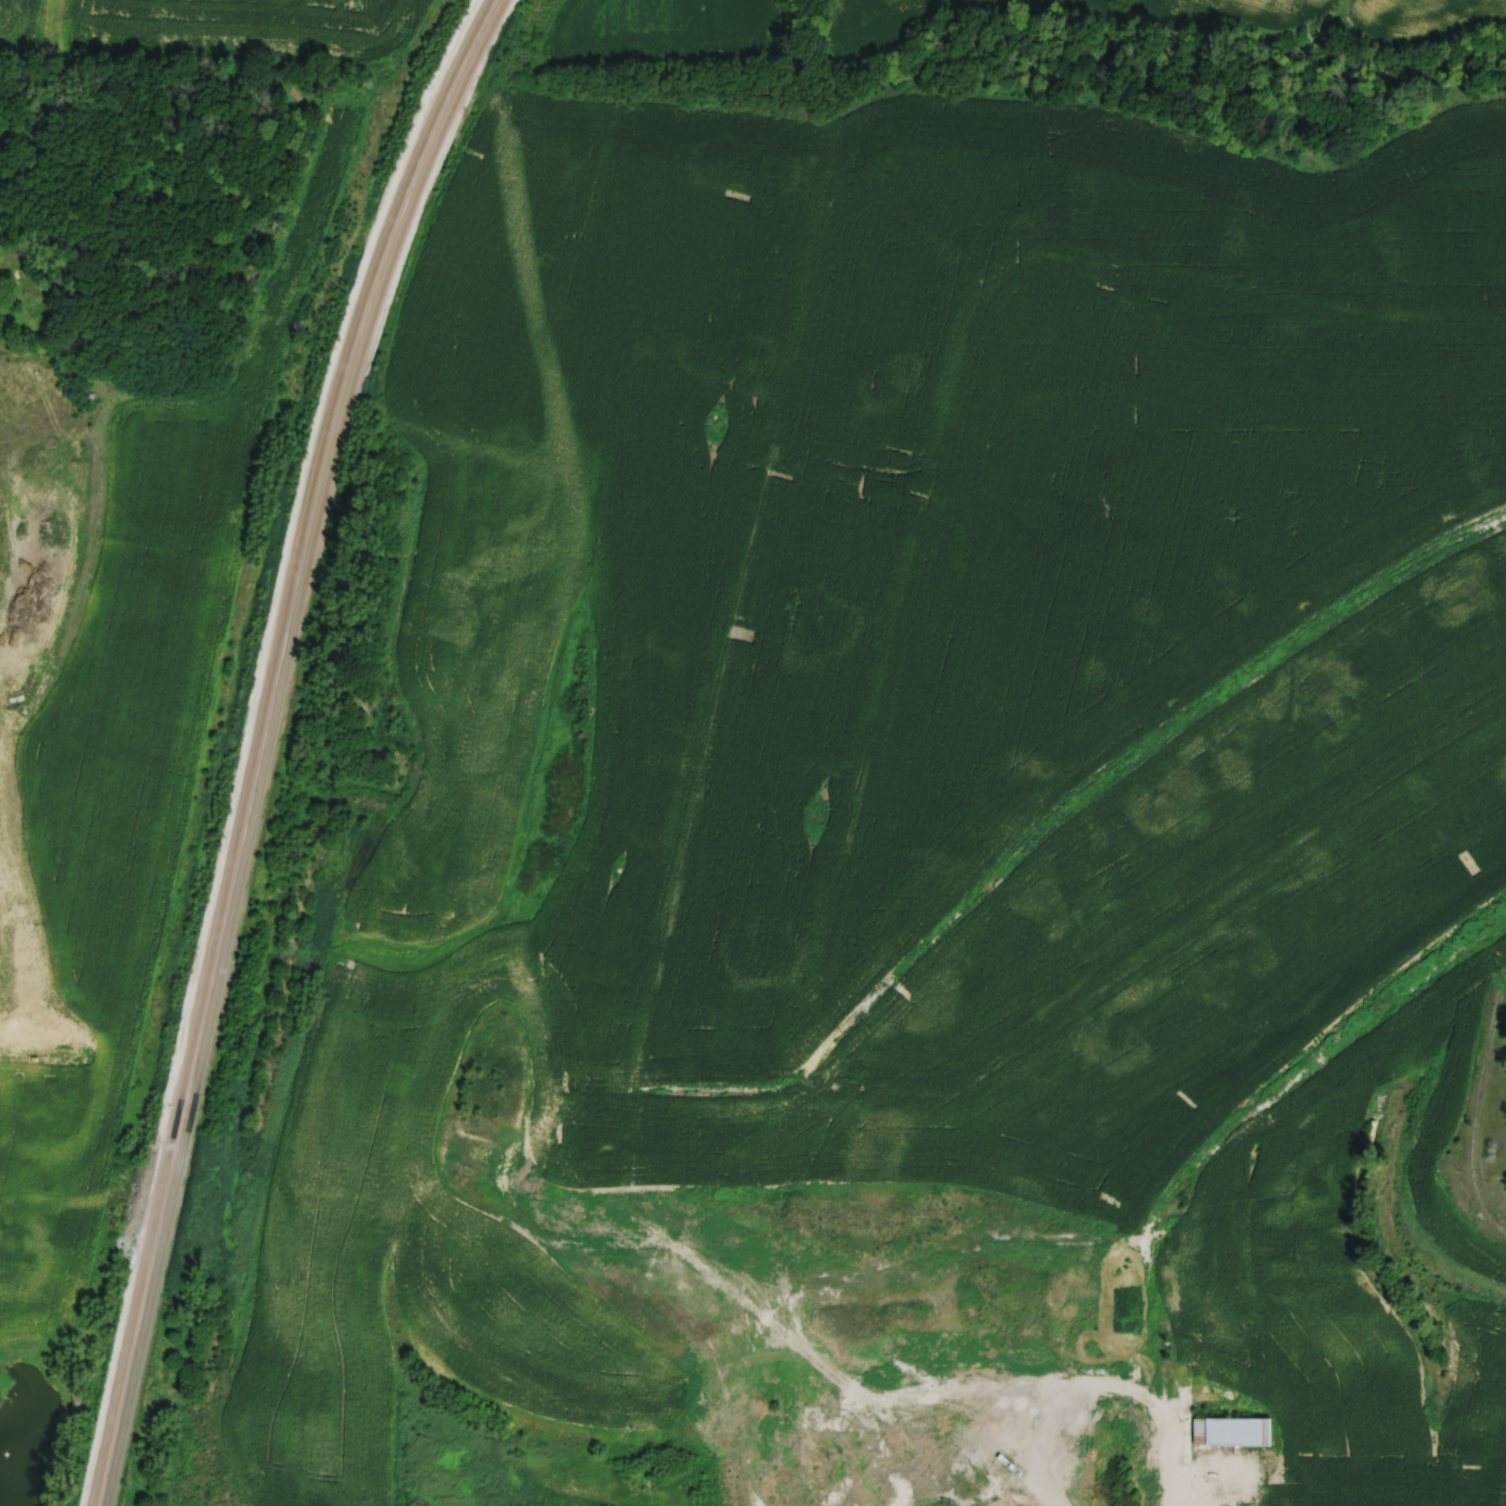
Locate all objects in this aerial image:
railway: (266, 741)
railway: (253, 742)
road: (1476, 1093)
road: (1206, 1151)
road: (1055, 1246)
road: (998, 1395)
building: (1232, 1432)

